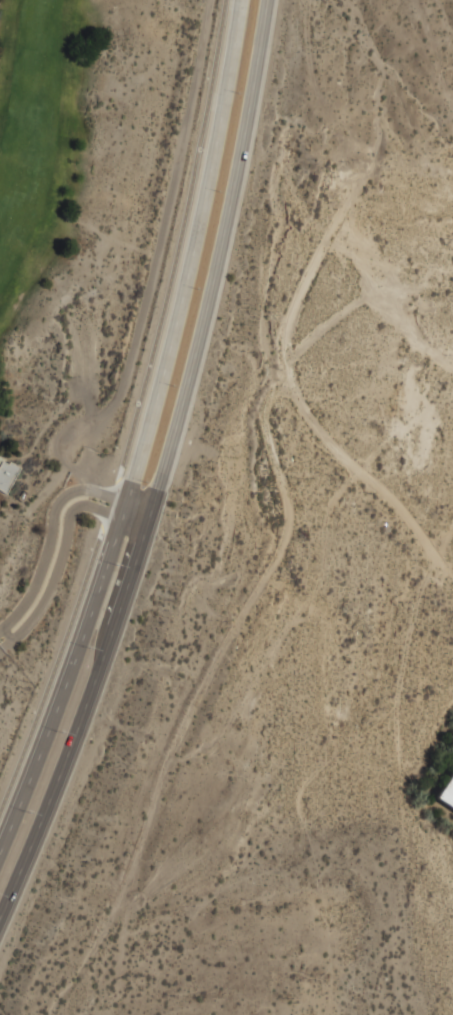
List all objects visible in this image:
road: (193, 252)
road: (218, 256)
park: (78, 275)
road: (136, 410)
building: (7, 474)
road: (52, 522)
road: (64, 551)
road: (68, 678)
road: (82, 713)
building: (446, 793)

